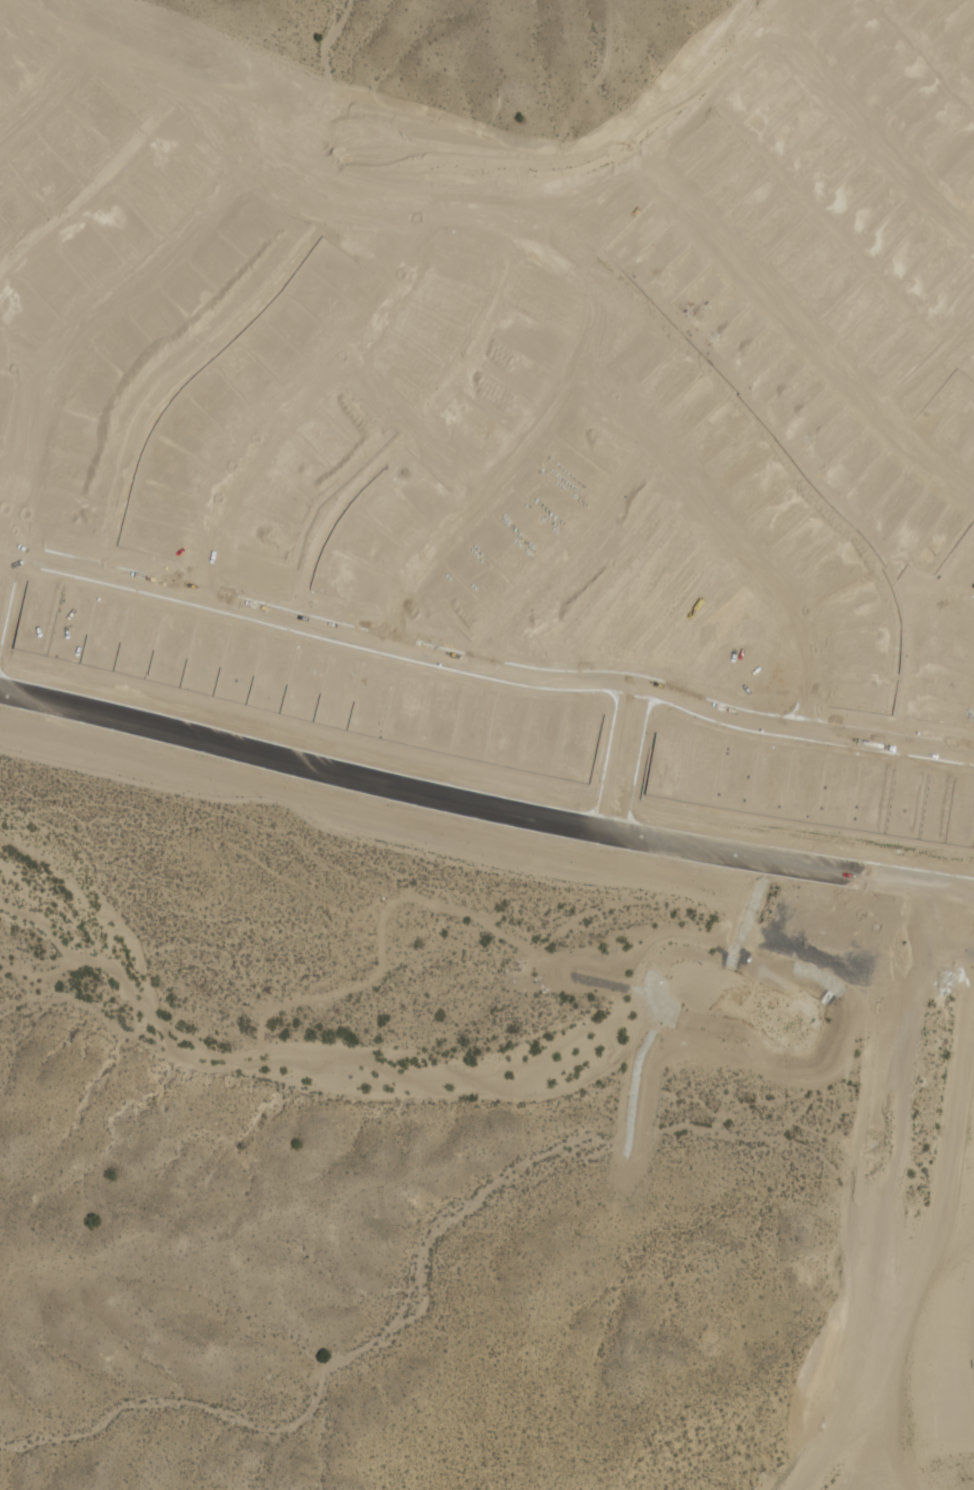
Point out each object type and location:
road: (49, 92)
road: (666, 127)
road: (866, 128)
road: (251, 178)
road: (806, 322)
road: (70, 343)
road: (928, 362)
road: (24, 366)
road: (298, 399)
road: (415, 424)
road: (524, 449)
road: (738, 534)
park: (653, 601)
park: (747, 639)
road: (485, 664)
road: (622, 757)
road: (481, 805)
road: (971, 894)
road: (971, 894)
road: (971, 908)
road: (916, 1264)
stadium: (948, 1370)

